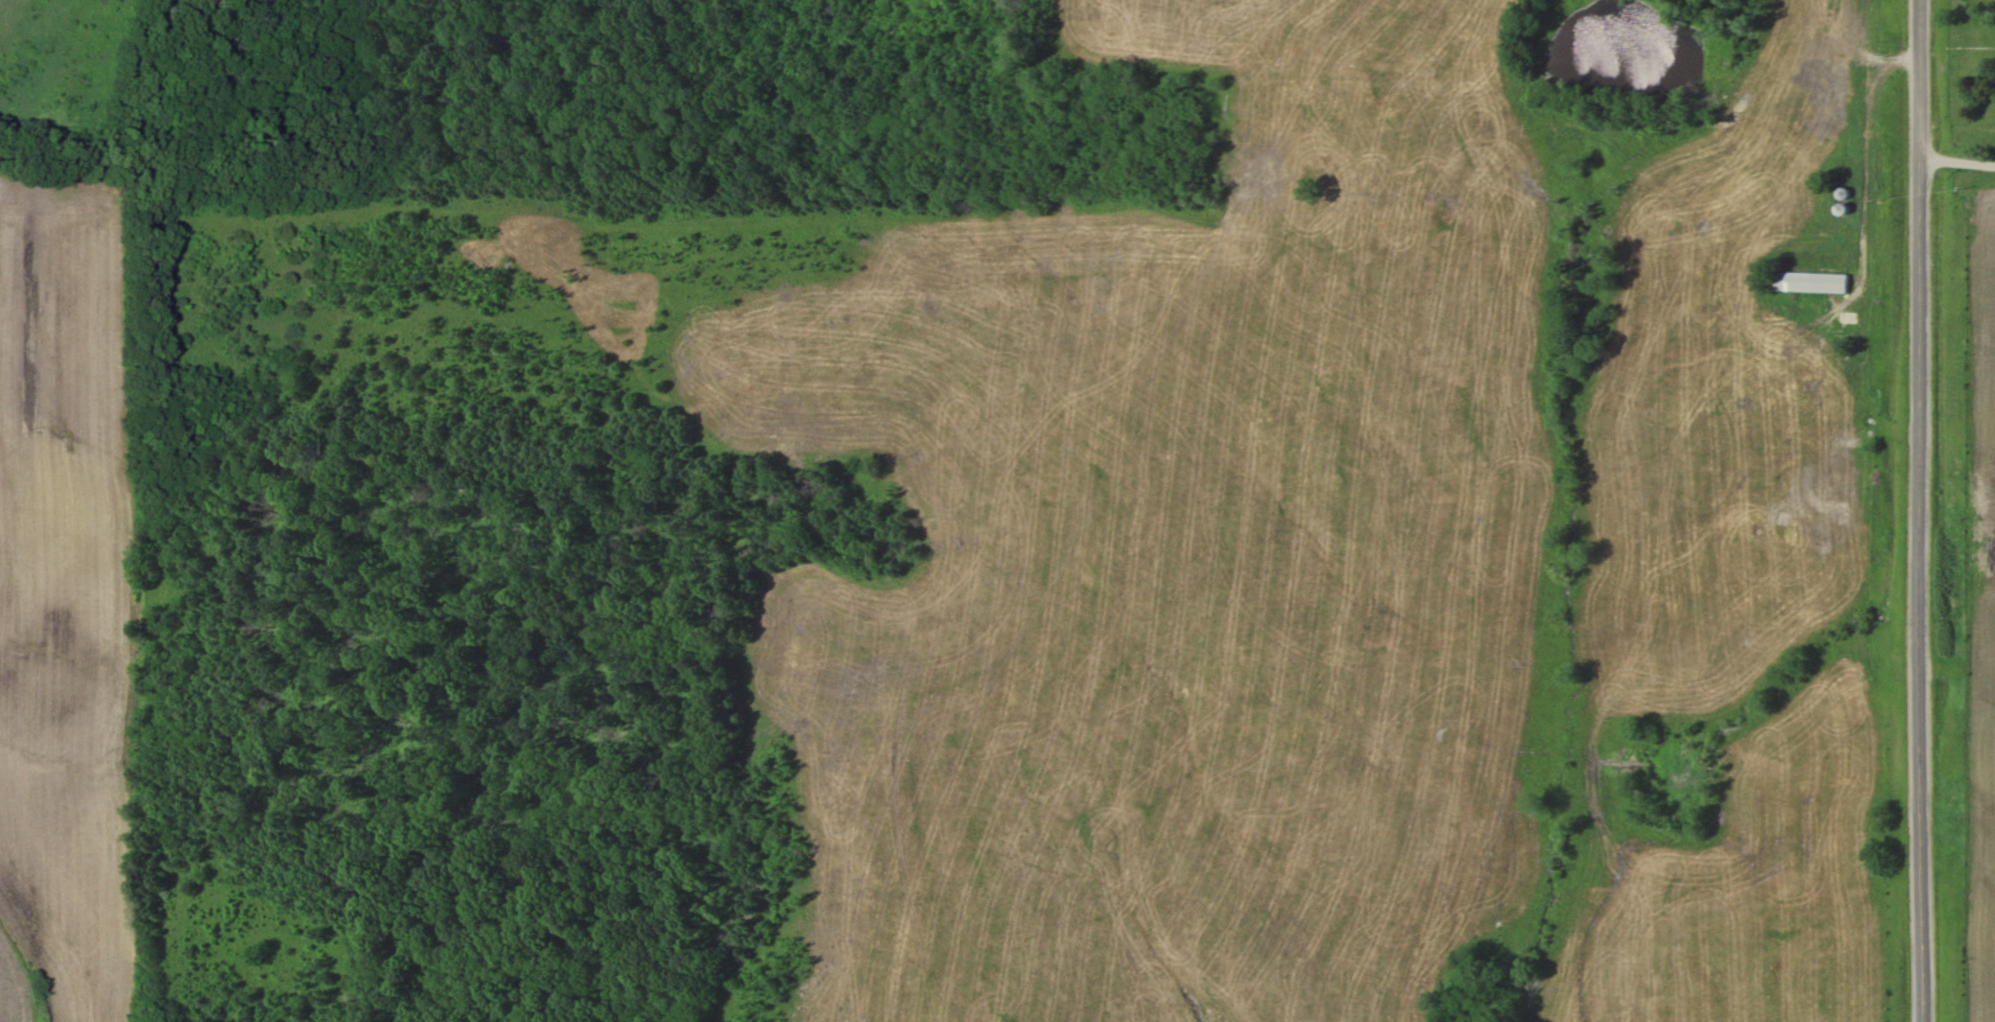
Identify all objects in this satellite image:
road: (1958, 163)
building: (1819, 283)
road: (1921, 511)

